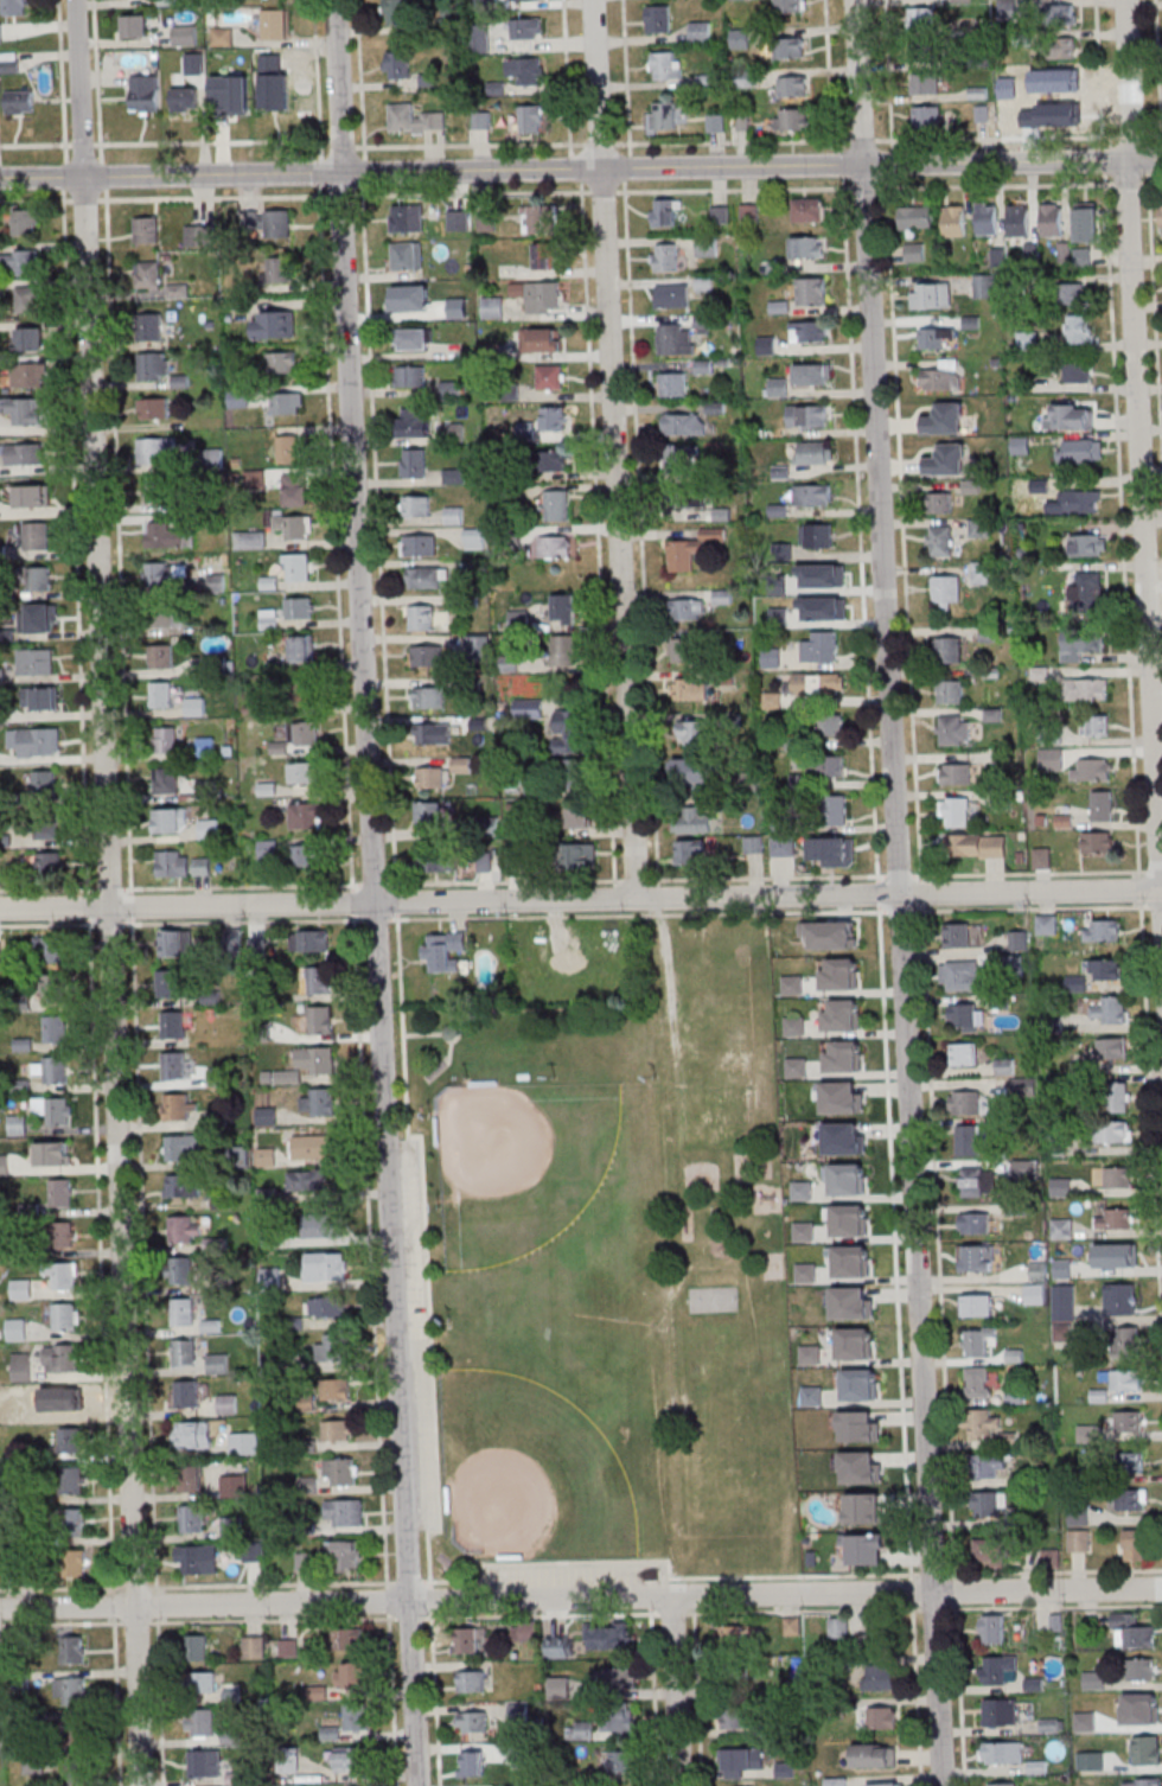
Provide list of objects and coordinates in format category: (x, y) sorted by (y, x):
building: (788, 6)
building: (15, 7)
building: (396, 11)
building: (1060, 15)
building: (658, 19)
building: (921, 19)
building: (274, 24)
building: (135, 26)
building: (526, 27)
building: (701, 31)
building: (0, 33)
building: (185, 36)
building: (222, 36)
building: (478, 38)
building: (787, 49)
building: (1060, 50)
building: (924, 52)
building: (9, 62)
building: (194, 63)
building: (397, 64)
building: (665, 64)
road: (1158, 68)
road: (828, 70)
road: (888, 70)
building: (530, 71)
road: (567, 71)
road: (626, 71)
building: (925, 85)
building: (793, 88)
building: (145, 93)
building: (235, 95)
building: (274, 97)
building: (185, 100)
building: (1061, 100)
building: (1008, 102)
building: (663, 115)
building: (531, 117)
building: (414, 119)
building: (926, 119)
building: (793, 120)
building: (715, 122)
road: (1134, 134)
road: (1154, 134)
road: (997, 136)
road: (862, 141)
road: (164, 142)
road: (730, 142)
road: (341, 143)
road: (470, 143)
road: (599, 143)
road: (580, 170)
road: (1150, 181)
road: (1129, 184)
road: (997, 185)
road: (863, 187)
road: (733, 189)
road: (601, 191)
road: (471, 193)
road: (339, 194)
road: (212, 198)
road: (36, 199)
road: (84, 199)
building: (809, 210)
building: (666, 212)
building: (720, 213)
building: (1160, 215)
building: (407, 217)
building: (538, 217)
building: (914, 217)
building: (987, 218)
building: (1053, 218)
building: (953, 219)
building: (1019, 219)
building: (456, 221)
building: (25, 222)
building: (1086, 222)
building: (276, 224)
building: (146, 230)
building: (200, 235)
building: (707, 247)
building: (806, 247)
building: (914, 251)
building: (407, 256)
building: (545, 256)
building: (664, 257)
building: (20, 262)
building: (279, 269)
building: (147, 275)
building: (984, 286)
building: (811, 291)
building: (1075, 293)
building: (931, 294)
building: (539, 295)
building: (672, 295)
building: (401, 298)
building: (28, 299)
building: (492, 307)
building: (274, 324)
building: (151, 326)
building: (1078, 329)
building: (809, 331)
building: (933, 337)
building: (409, 338)
building: (30, 339)
building: (541, 339)
building: (676, 339)
building: (1027, 340)
building: (767, 346)
building: (281, 362)
building: (154, 366)
building: (1078, 371)
building: (812, 375)
building: (939, 375)
building: (27, 376)
building: (410, 376)
building: (550, 376)
building: (672, 384)
building: (452, 388)
building: (778, 388)
building: (287, 402)
building: (153, 408)
building: (25, 410)
building: (1071, 416)
building: (554, 417)
building: (807, 417)
building: (944, 419)
building: (413, 422)
building: (684, 425)
road: (1139, 444)
building: (288, 449)
road: (614, 449)
building: (157, 451)
building: (1079, 451)
building: (813, 452)
building: (25, 454)
building: (946, 459)
building: (555, 460)
building: (681, 460)
building: (414, 463)
building: (458, 476)
building: (294, 489)
building: (162, 493)
building: (812, 495)
building: (31, 496)
building: (685, 497)
building: (1081, 500)
building: (939, 502)
building: (416, 505)
building: (557, 505)
building: (294, 525)
building: (981, 528)
building: (34, 535)
building: (162, 535)
building: (816, 535)
building: (473, 538)
building: (249, 540)
building: (940, 540)
building: (419, 544)
building: (1087, 544)
building: (554, 547)
building: (691, 548)
building: (298, 567)
building: (982, 572)
building: (162, 575)
building: (217, 576)
building: (427, 576)
building: (39, 579)
building: (945, 591)
building: (1087, 592)
building: (722, 597)
building: (821, 599)
building: (299, 608)
building: (563, 610)
building: (687, 610)
building: (422, 617)
building: (38, 618)
building: (170, 618)
building: (268, 619)
building: (1080, 643)
building: (478, 644)
building: (821, 648)
building: (682, 650)
building: (949, 650)
building: (563, 651)
building: (301, 652)
building: (427, 656)
building: (160, 657)
building: (274, 658)
building: (771, 658)
building: (34, 663)
building: (816, 684)
building: (691, 689)
building: (1087, 689)
building: (950, 691)
building: (160, 695)
building: (433, 697)
building: (38, 700)
building: (772, 701)
building: (194, 707)
building: (528, 707)
building: (830, 725)
building: (1094, 725)
building: (953, 729)
building: (570, 732)
building: (304, 733)
building: (428, 733)
building: (694, 733)
building: (166, 740)
building: (34, 742)
building: (1051, 759)
building: (834, 765)
building: (1092, 770)
building: (305, 772)
building: (574, 773)
building: (692, 773)
building: (954, 773)
building: (429, 777)
building: (166, 780)
building: (44, 784)
building: (1102, 805)
building: (835, 809)
building: (954, 811)
building: (429, 814)
building: (306, 815)
building: (579, 817)
building: (171, 819)
building: (690, 821)
building: (46, 828)
building: (1097, 841)
building: (753, 844)
building: (781, 846)
building: (976, 846)
building: (268, 849)
building: (830, 851)
building: (691, 854)
building: (305, 855)
building: (581, 855)
building: (439, 860)
building: (49, 863)
building: (173, 863)
building: (485, 865)
building: (202, 867)
road: (581, 880)
road: (899, 892)
road: (107, 893)
road: (375, 893)
road: (581, 899)
road: (581, 914)
building: (1102, 930)
building: (829, 933)
building: (957, 936)
building: (232, 939)
building: (579, 939)
building: (309, 940)
building: (175, 942)
building: (52, 950)
building: (443, 950)
building: (0, 951)
building: (1105, 969)
building: (838, 974)
building: (963, 977)
building: (318, 981)
building: (172, 983)
building: (792, 984)
building: (55, 988)
building: (1110, 1010)
building: (841, 1014)
building: (965, 1016)
building: (319, 1021)
building: (173, 1023)
building: (794, 1026)
building: (56, 1029)
road: (422, 1034)
road: (447, 1041)
building: (1110, 1048)
road: (449, 1052)
building: (965, 1054)
building: (843, 1057)
building: (313, 1063)
building: (173, 1066)
building: (796, 1067)
building: (52, 1070)
stadium: (436, 1071)
building: (1022, 1086)
building: (839, 1097)
building: (1116, 1097)
building: (965, 1102)
building: (318, 1104)
building: (177, 1108)
building: (55, 1109)
building: (267, 1117)
building: (1113, 1131)
building: (843, 1138)
building: (969, 1140)
building: (183, 1148)
building: (312, 1148)
building: (52, 1154)
building: (1117, 1176)
building: (847, 1179)
building: (307, 1181)
park: (542, 1181)
building: (977, 1181)
building: (183, 1186)
building: (802, 1192)
building: (60, 1193)
building: (1115, 1218)
building: (850, 1222)
building: (973, 1223)
building: (321, 1225)
building: (184, 1229)
building: (62, 1236)
building: (978, 1257)
building: (851, 1262)
building: (325, 1268)
building: (181, 1271)
building: (62, 1276)
park: (607, 1276)
building: (21, 1289)
building: (1034, 1295)
park: (713, 1299)
building: (1120, 1300)
building: (1062, 1305)
building: (853, 1306)
building: (977, 1306)
building: (326, 1308)
building: (183, 1312)
building: (64, 1318)
parking lot: (411, 1335)
building: (977, 1341)
building: (1128, 1341)
building: (854, 1344)
building: (331, 1350)
building: (185, 1354)
building: (63, 1359)
building: (218, 1364)
building: (1123, 1379)
building: (977, 1383)
building: (860, 1384)
building: (334, 1390)
building: (186, 1395)
building: (811, 1397)
building: (68, 1399)
building: (226, 1405)
building: (33, 1408)
building: (1129, 1421)
building: (981, 1422)
building: (857, 1425)
building: (337, 1430)
building: (192, 1436)
building: (70, 1440)
park: (555, 1441)
building: (1132, 1462)
building: (860, 1467)
building: (987, 1467)
building: (340, 1472)
building: (191, 1478)
building: (71, 1481)
building: (1130, 1500)
building: (987, 1505)
building: (864, 1507)
building: (344, 1512)
building: (191, 1518)
building: (72, 1522)
building: (1078, 1542)
building: (1135, 1545)
building: (866, 1549)
building: (991, 1551)
building: (345, 1554)
building: (199, 1559)
building: (74, 1564)
road: (581, 1578)
parking lot: (573, 1581)
road: (581, 1599)
road: (581, 1614)
building: (838, 1627)
building: (991, 1628)
building: (524, 1631)
building: (1131, 1631)
building: (607, 1635)
building: (875, 1637)
building: (730, 1638)
building: (346, 1639)
building: (466, 1640)
building: (560, 1646)
building: (253, 1647)
building: (197, 1648)
building: (71, 1651)
building: (1141, 1669)
building: (998, 1670)
building: (350, 1675)
building: (730, 1675)
building: (877, 1677)
building: (471, 1680)
building: (619, 1680)
building: (1094, 1680)
building: (202, 1683)
building: (558, 1688)
road: (675, 1691)
building: (69, 1692)
building: (1000, 1712)
building: (736, 1715)
building: (355, 1716)
building: (881, 1717)
building: (1143, 1717)
building: (620, 1720)
building: (472, 1722)
building: (200, 1723)
building: (579, 1731)
building: (1145, 1749)
building: (1002, 1753)
building: (874, 1755)
building: (349, 1759)
building: (621, 1761)
building: (741, 1761)
building: (471, 1762)
building: (204, 1765)
building: (81, 1775)
building: (836, 1781)
building: (1143, 1781)
building: (883, 1785)
building: (1002, 1785)

